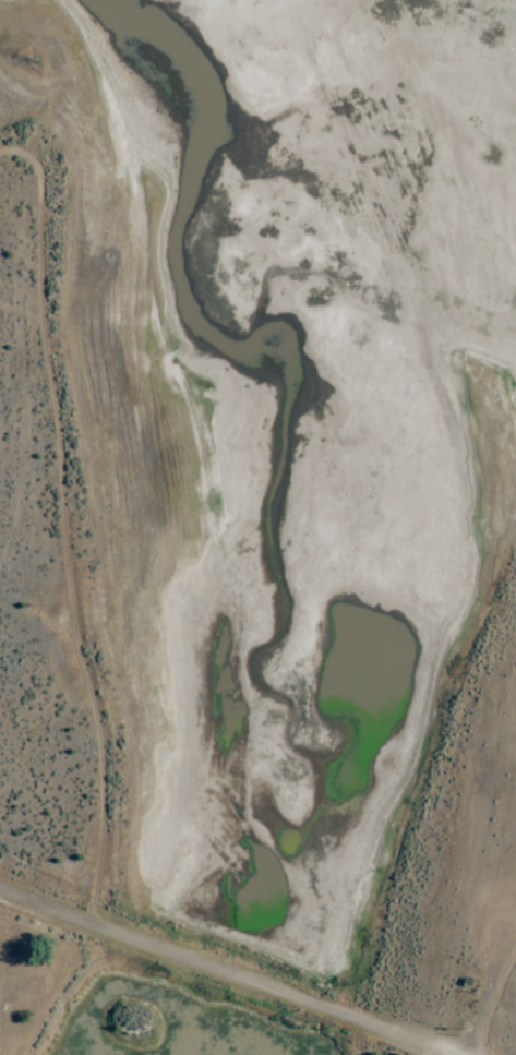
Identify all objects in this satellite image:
road: (228, 973)

